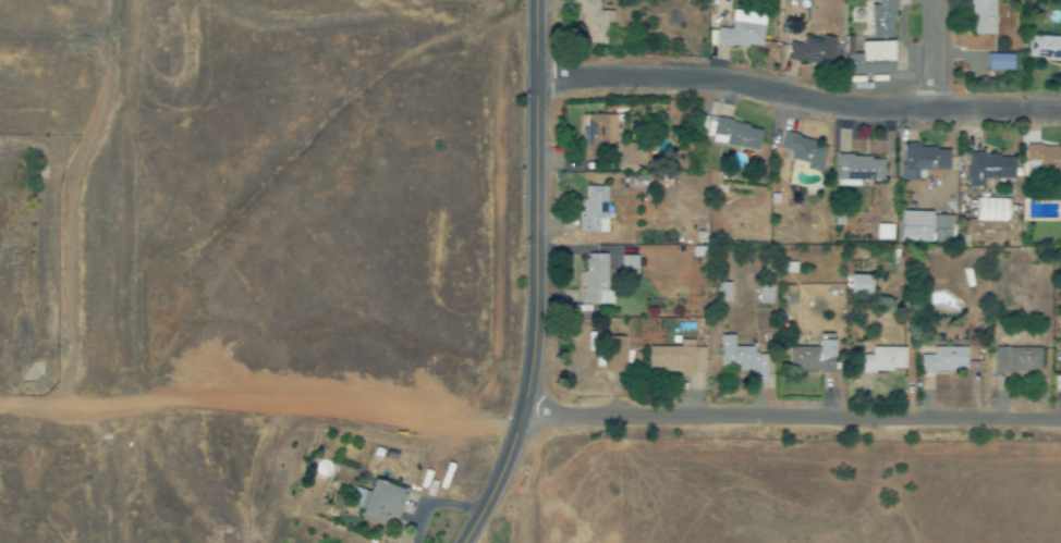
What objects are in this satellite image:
building: (983, 17)
building: (882, 20)
building: (595, 22)
building: (743, 30)
building: (1044, 49)
building: (812, 50)
road: (935, 54)
building: (871, 59)
building: (999, 62)
road: (798, 97)
building: (737, 134)
building: (598, 136)
building: (805, 151)
building: (631, 155)
building: (924, 161)
building: (1044, 162)
building: (859, 169)
building: (988, 169)
building: (594, 209)
building: (991, 210)
building: (926, 227)
building: (886, 232)
road: (537, 272)
building: (595, 280)
building: (858, 285)
building: (722, 292)
building: (765, 294)
building: (614, 355)
building: (676, 358)
building: (813, 358)
building: (742, 359)
building: (883, 360)
building: (946, 360)
building: (1016, 360)
road: (260, 403)
road: (791, 418)
road: (504, 483)
building: (380, 502)

